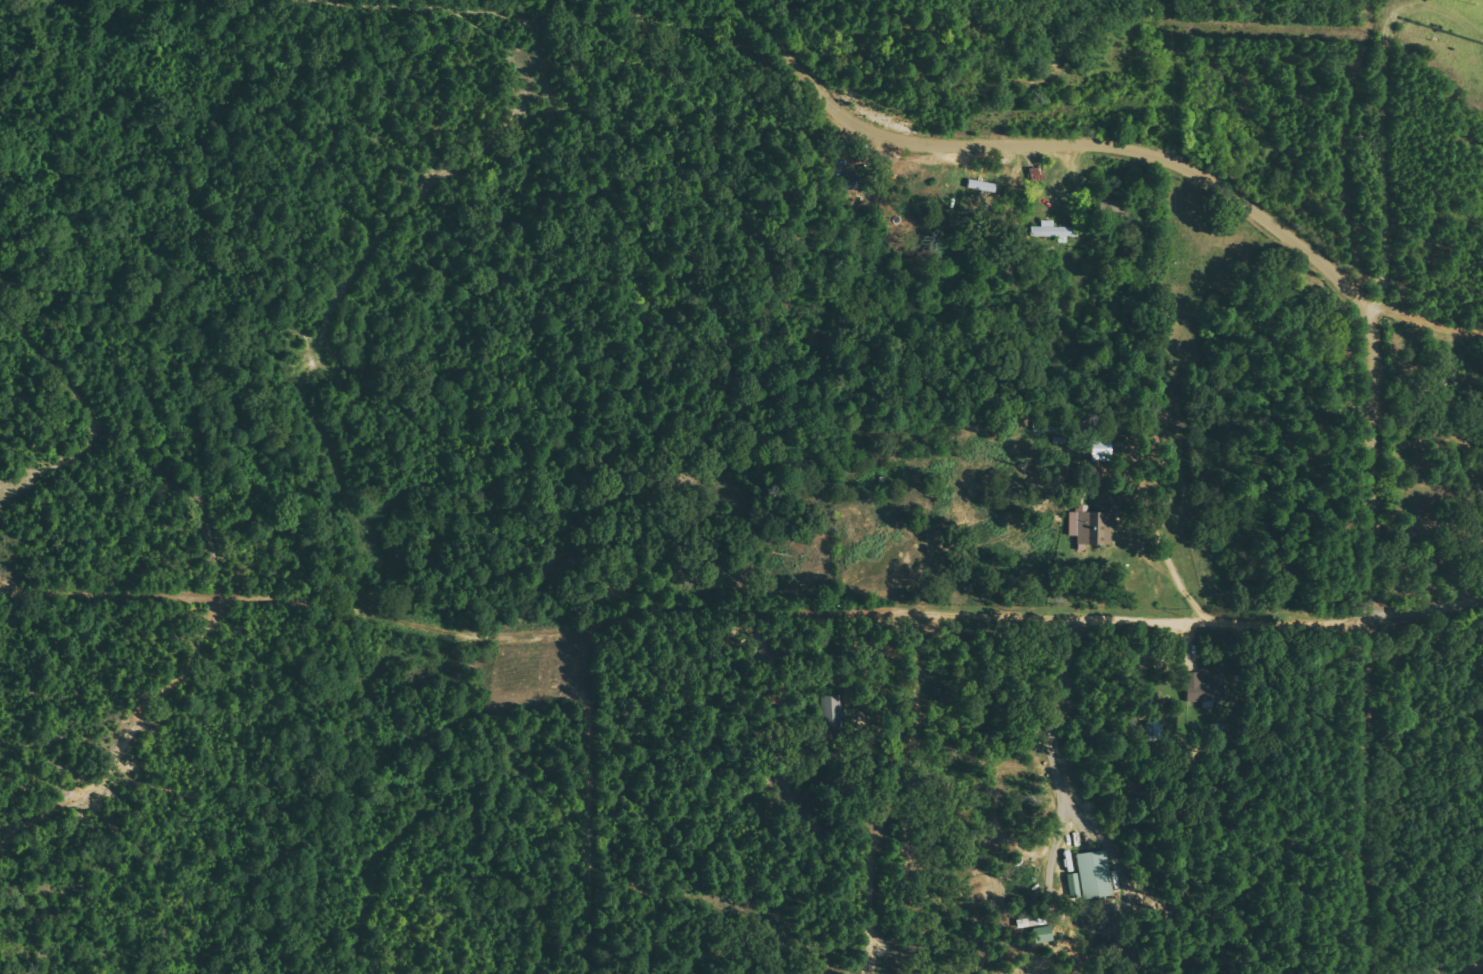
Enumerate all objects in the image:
building: (852, 181)
building: (982, 186)
building: (1054, 231)
road: (1340, 279)
building: (1103, 450)
building: (1090, 527)
road: (686, 597)
building: (1204, 688)
building: (832, 710)
building: (1096, 874)
building: (1043, 934)

